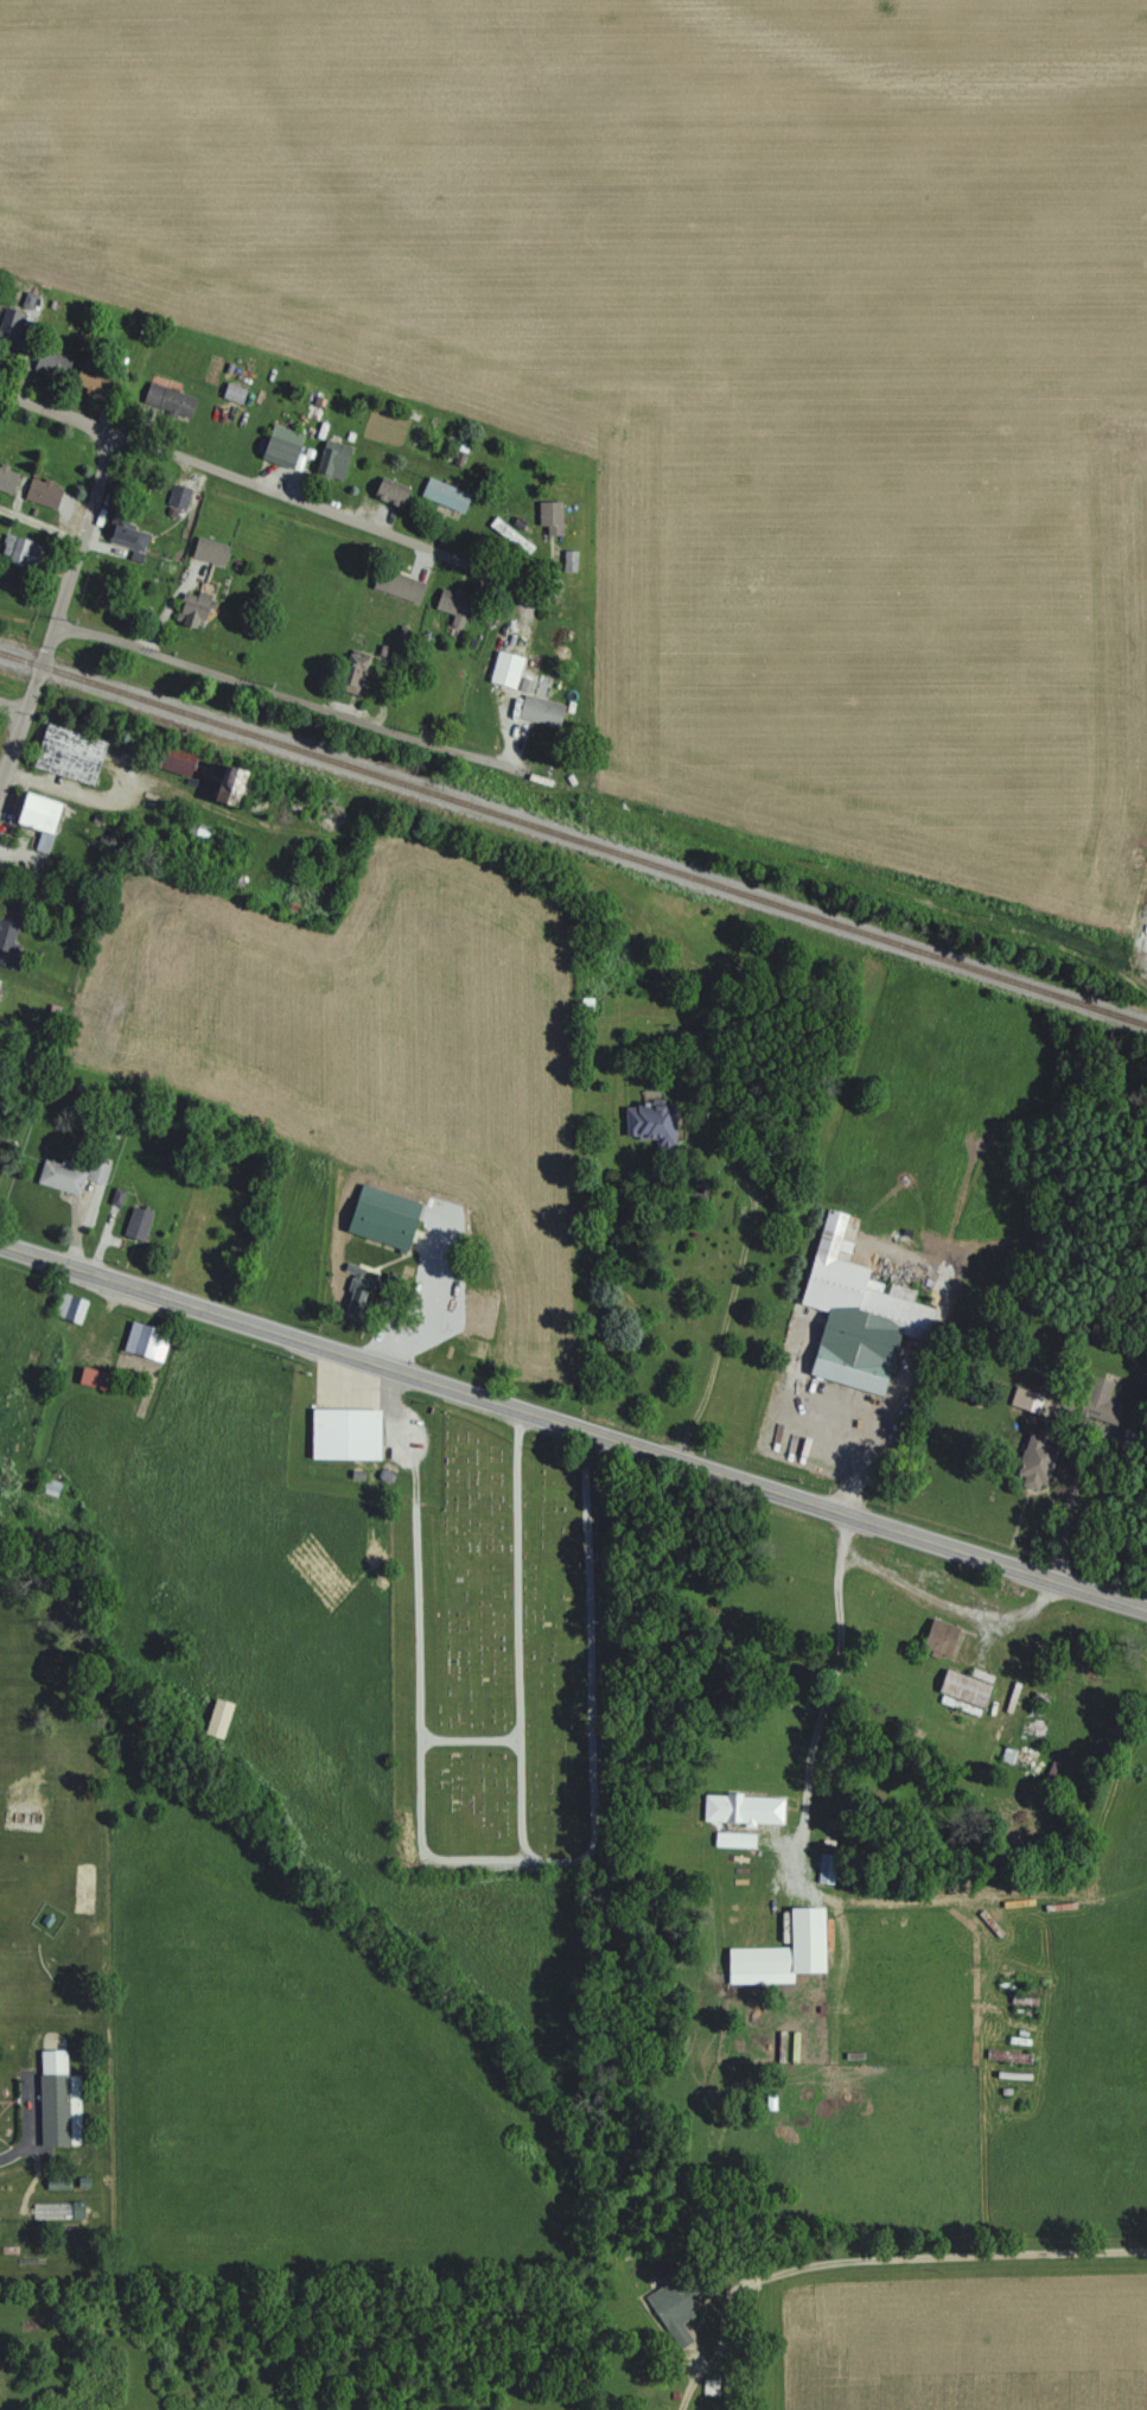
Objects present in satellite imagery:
building: (9, 324)
building: (51, 363)
building: (87, 377)
building: (232, 392)
building: (166, 399)
building: (279, 445)
building: (331, 459)
building: (6, 479)
road: (256, 482)
building: (42, 491)
building: (389, 491)
building: (444, 494)
building: (178, 496)
building: (550, 516)
road: (40, 524)
building: (14, 551)
building: (209, 551)
building: (568, 560)
building: (396, 585)
building: (454, 605)
building: (191, 608)
road: (59, 611)
building: (504, 668)
building: (352, 672)
road: (291, 694)
road: (13, 705)
building: (66, 753)
building: (172, 761)
building: (32, 815)
railway: (573, 837)
building: (6, 940)
building: (649, 1120)
building: (70, 1174)
building: (380, 1214)
building: (135, 1222)
building: (68, 1306)
building: (853, 1311)
road: (722, 1316)
building: (144, 1340)
building: (91, 1376)
building: (1025, 1398)
building: (1098, 1399)
road: (573, 1424)
road: (864, 1430)
building: (350, 1431)
road: (406, 1433)
building: (1033, 1460)
road: (1071, 1506)
park: (492, 1633)
building: (938, 1635)
building: (981, 1675)
road: (829, 1678)
building: (961, 1692)
building: (215, 1716)
road: (420, 1735)
road: (470, 1737)
building: (1019, 1759)
building: (741, 1808)
building: (733, 1838)
road: (548, 1861)
building: (779, 1951)
building: (55, 2098)
building: (58, 2209)
road: (862, 2257)
building: (674, 2309)

